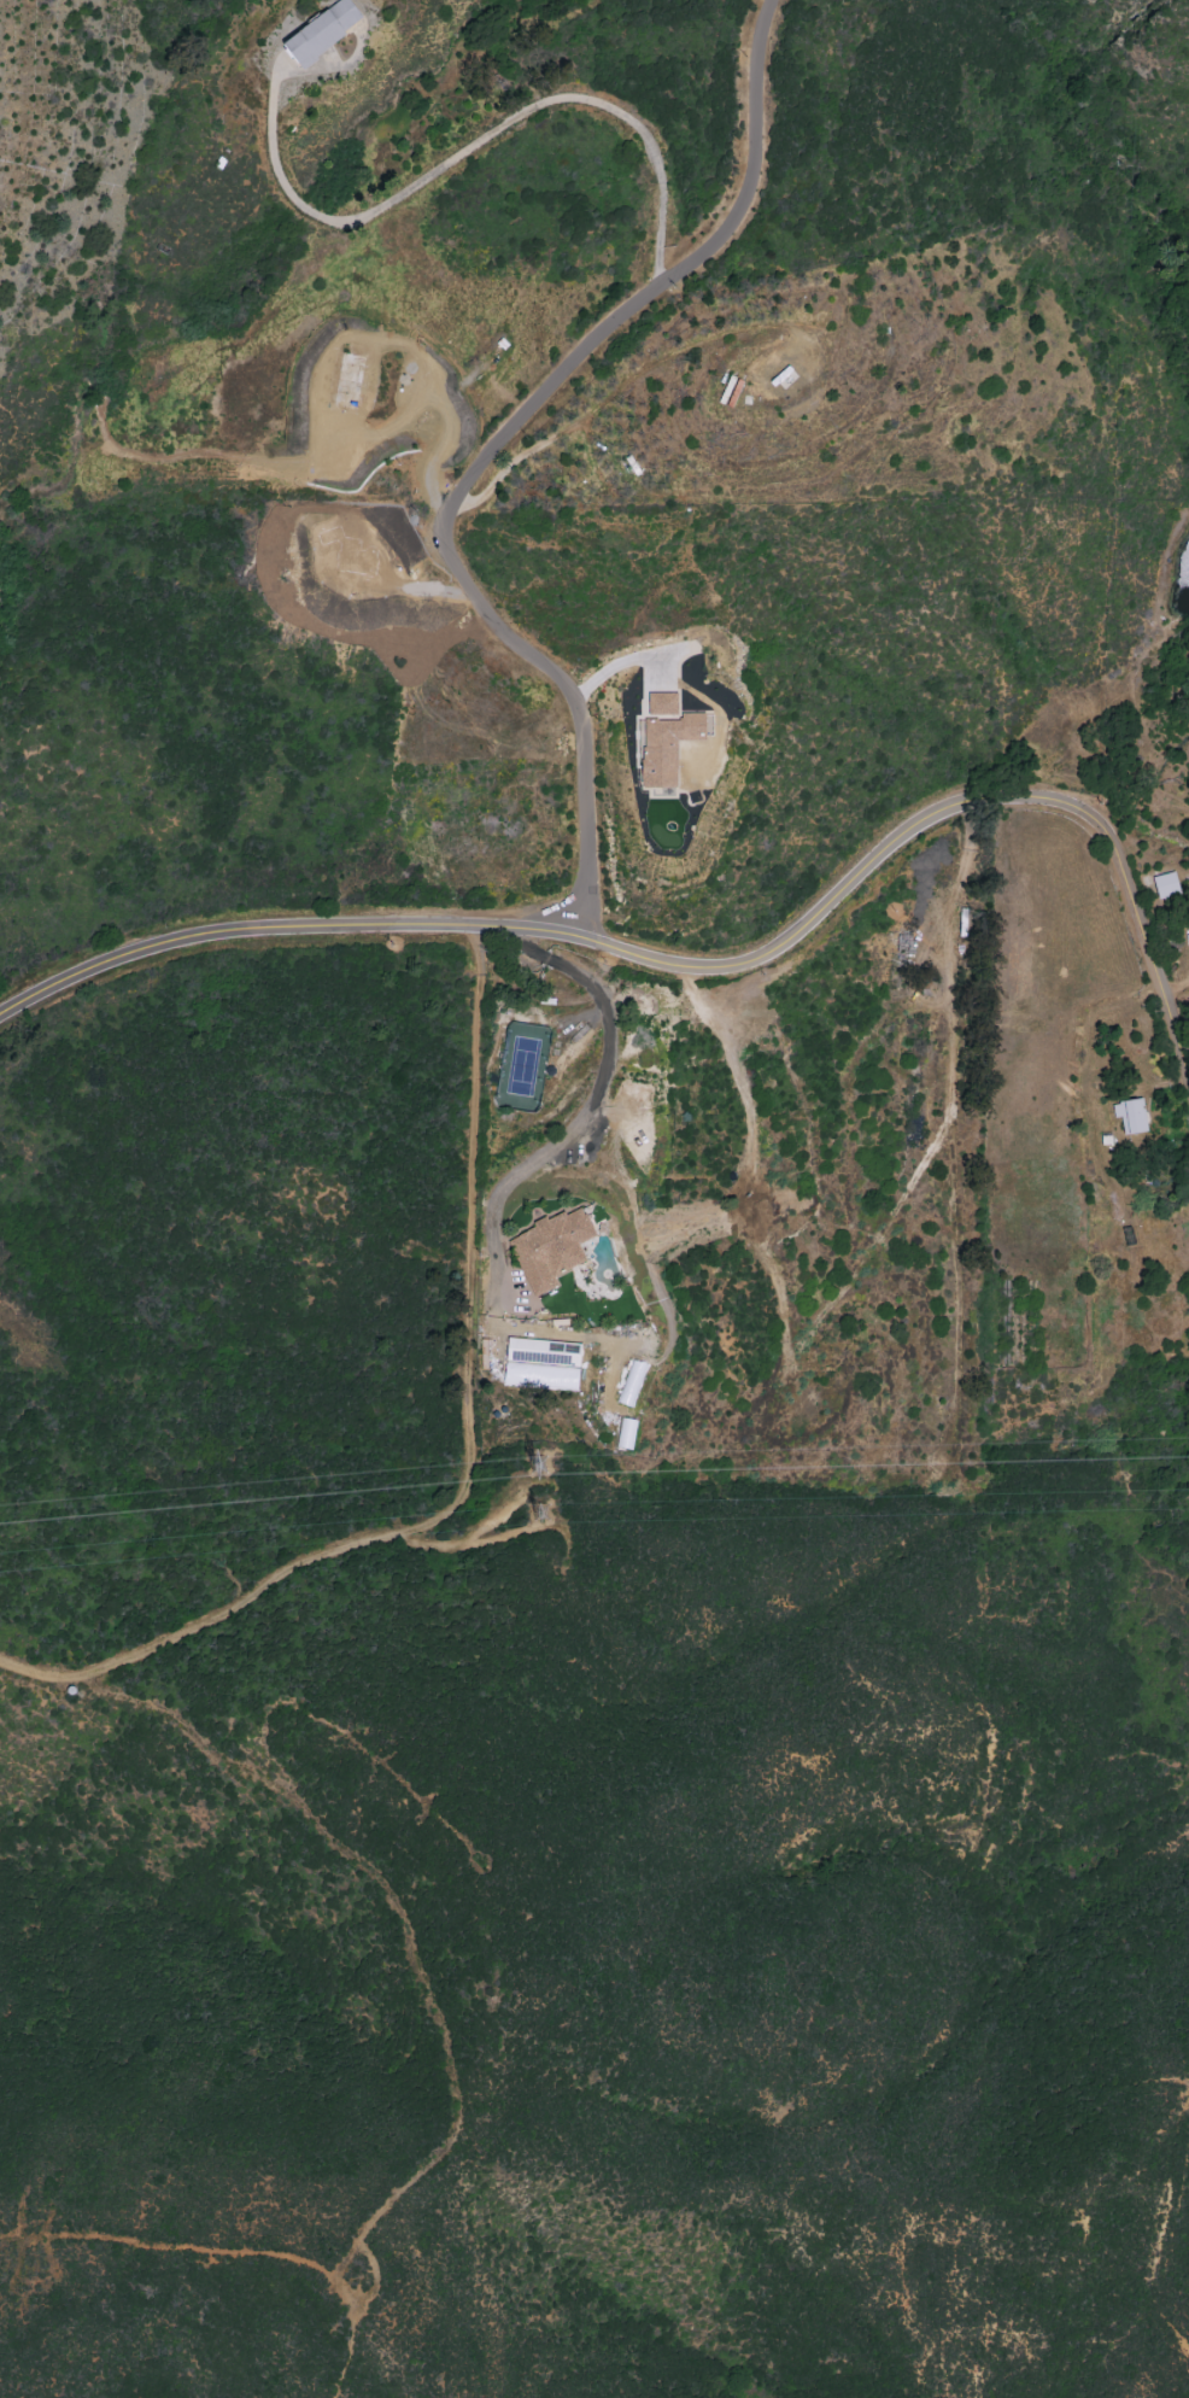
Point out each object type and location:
building: (323, 31)
road: (473, 146)
road: (393, 345)
building: (347, 380)
road: (491, 448)
road: (621, 663)
building: (662, 703)
building: (669, 745)
building: (1166, 887)
road: (697, 967)
road: (590, 1106)
building: (1130, 1115)
building: (551, 1248)
building: (541, 1364)
building: (631, 1384)
building: (626, 1433)
power tower: (545, 1466)
road: (469, 1467)
power tower: (547, 1511)
road: (394, 1900)
road: (168, 2244)
road: (376, 2275)

